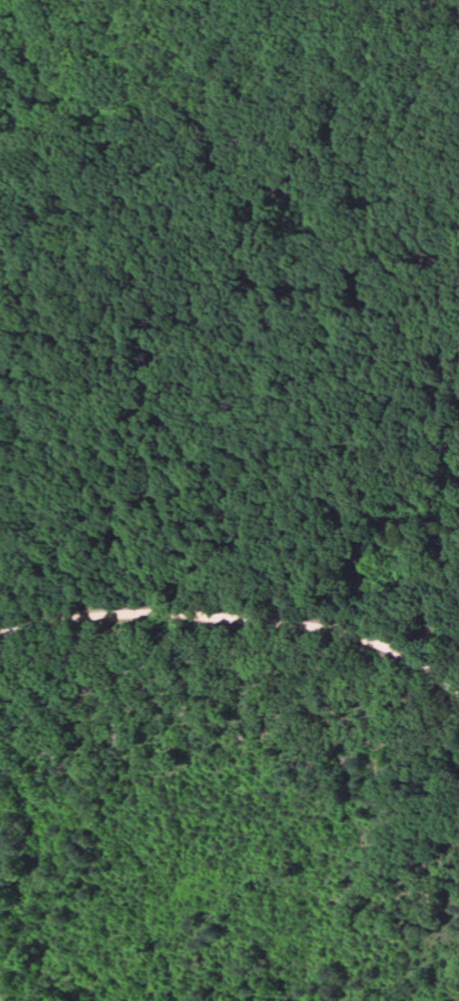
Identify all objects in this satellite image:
road: (237, 622)

